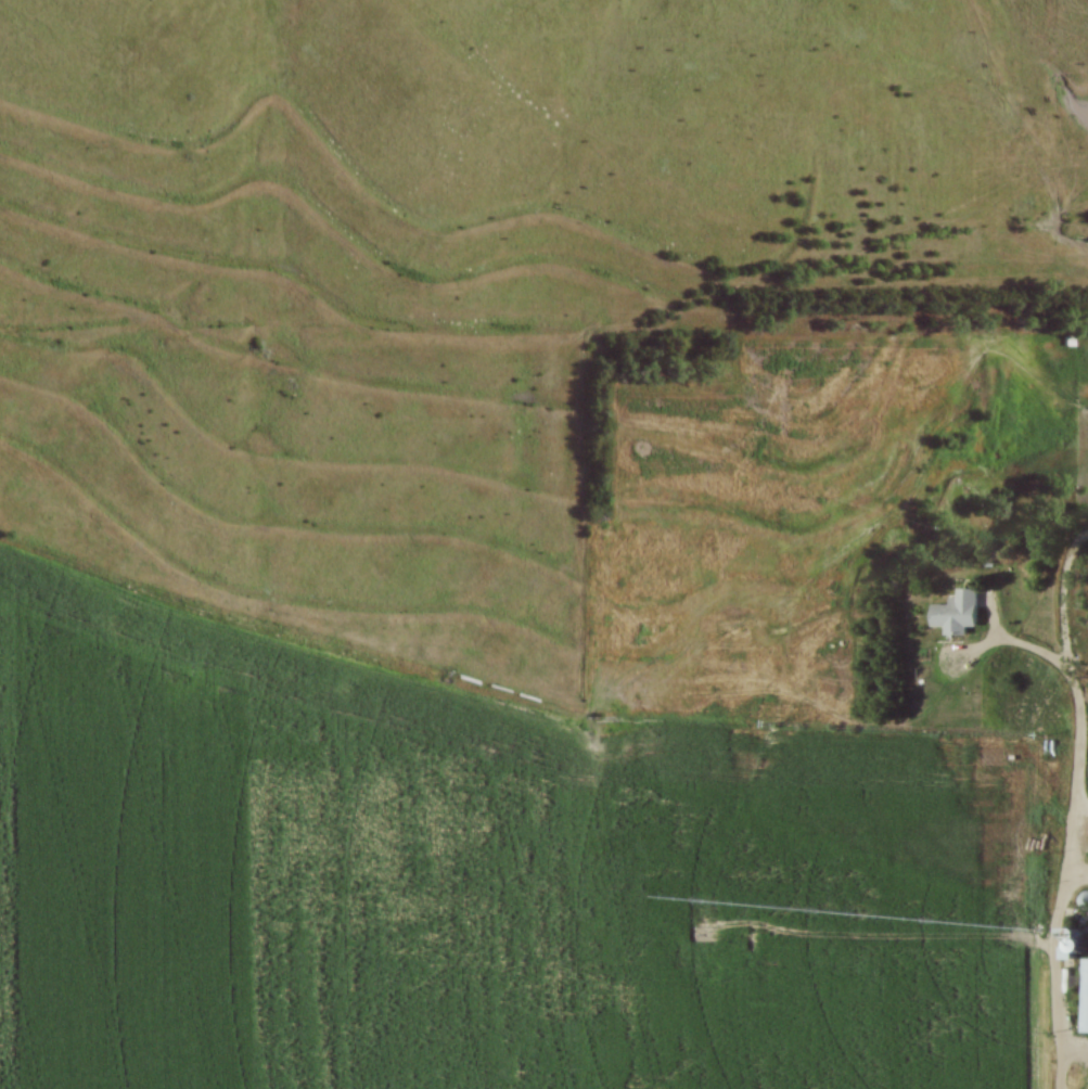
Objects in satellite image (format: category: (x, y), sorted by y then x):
dam: (1075, 223)
building: (1078, 394)
road: (1060, 597)
building: (958, 612)
road: (1073, 821)
crop: (482, 873)
silo: (1084, 900)
silo: (1085, 922)
silo: (1085, 941)
building: (1083, 995)
crop: (1078, 1078)

